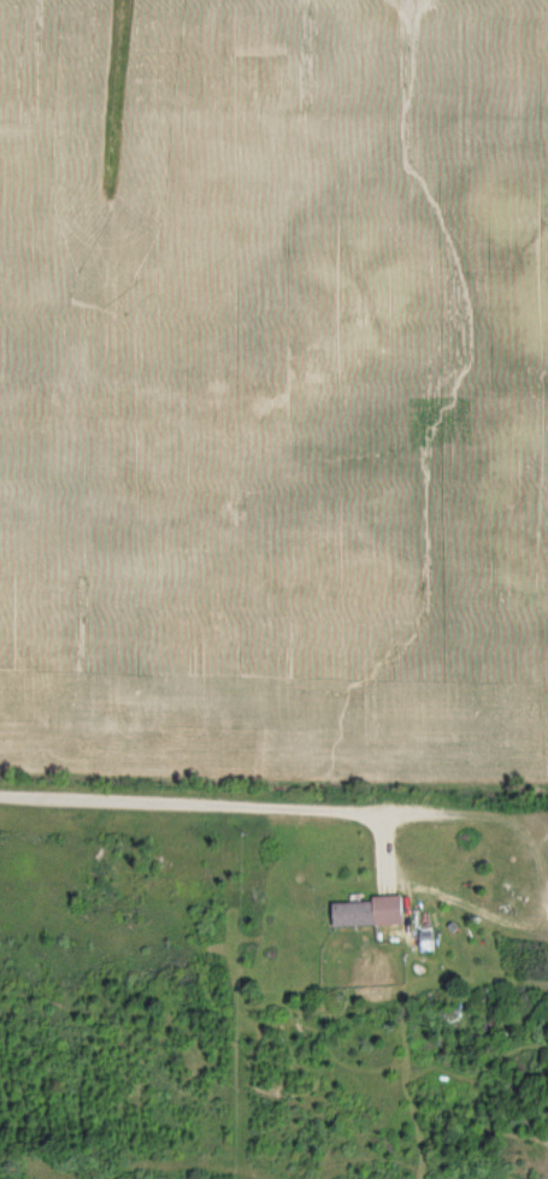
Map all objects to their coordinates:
road: (207, 804)
building: (363, 913)

